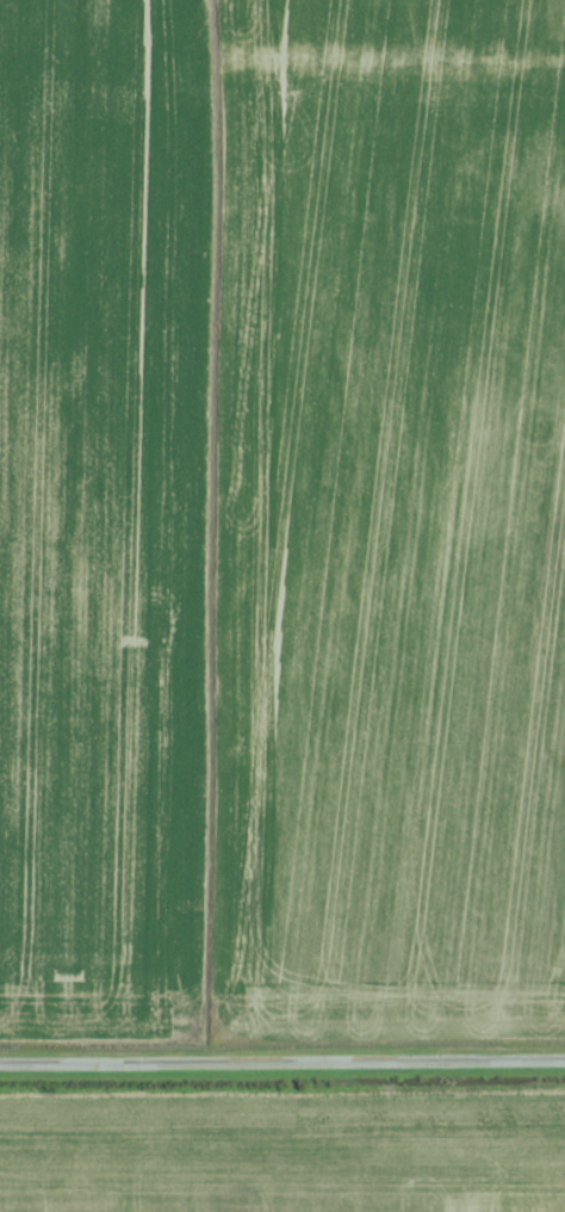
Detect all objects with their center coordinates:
road: (282, 1051)

